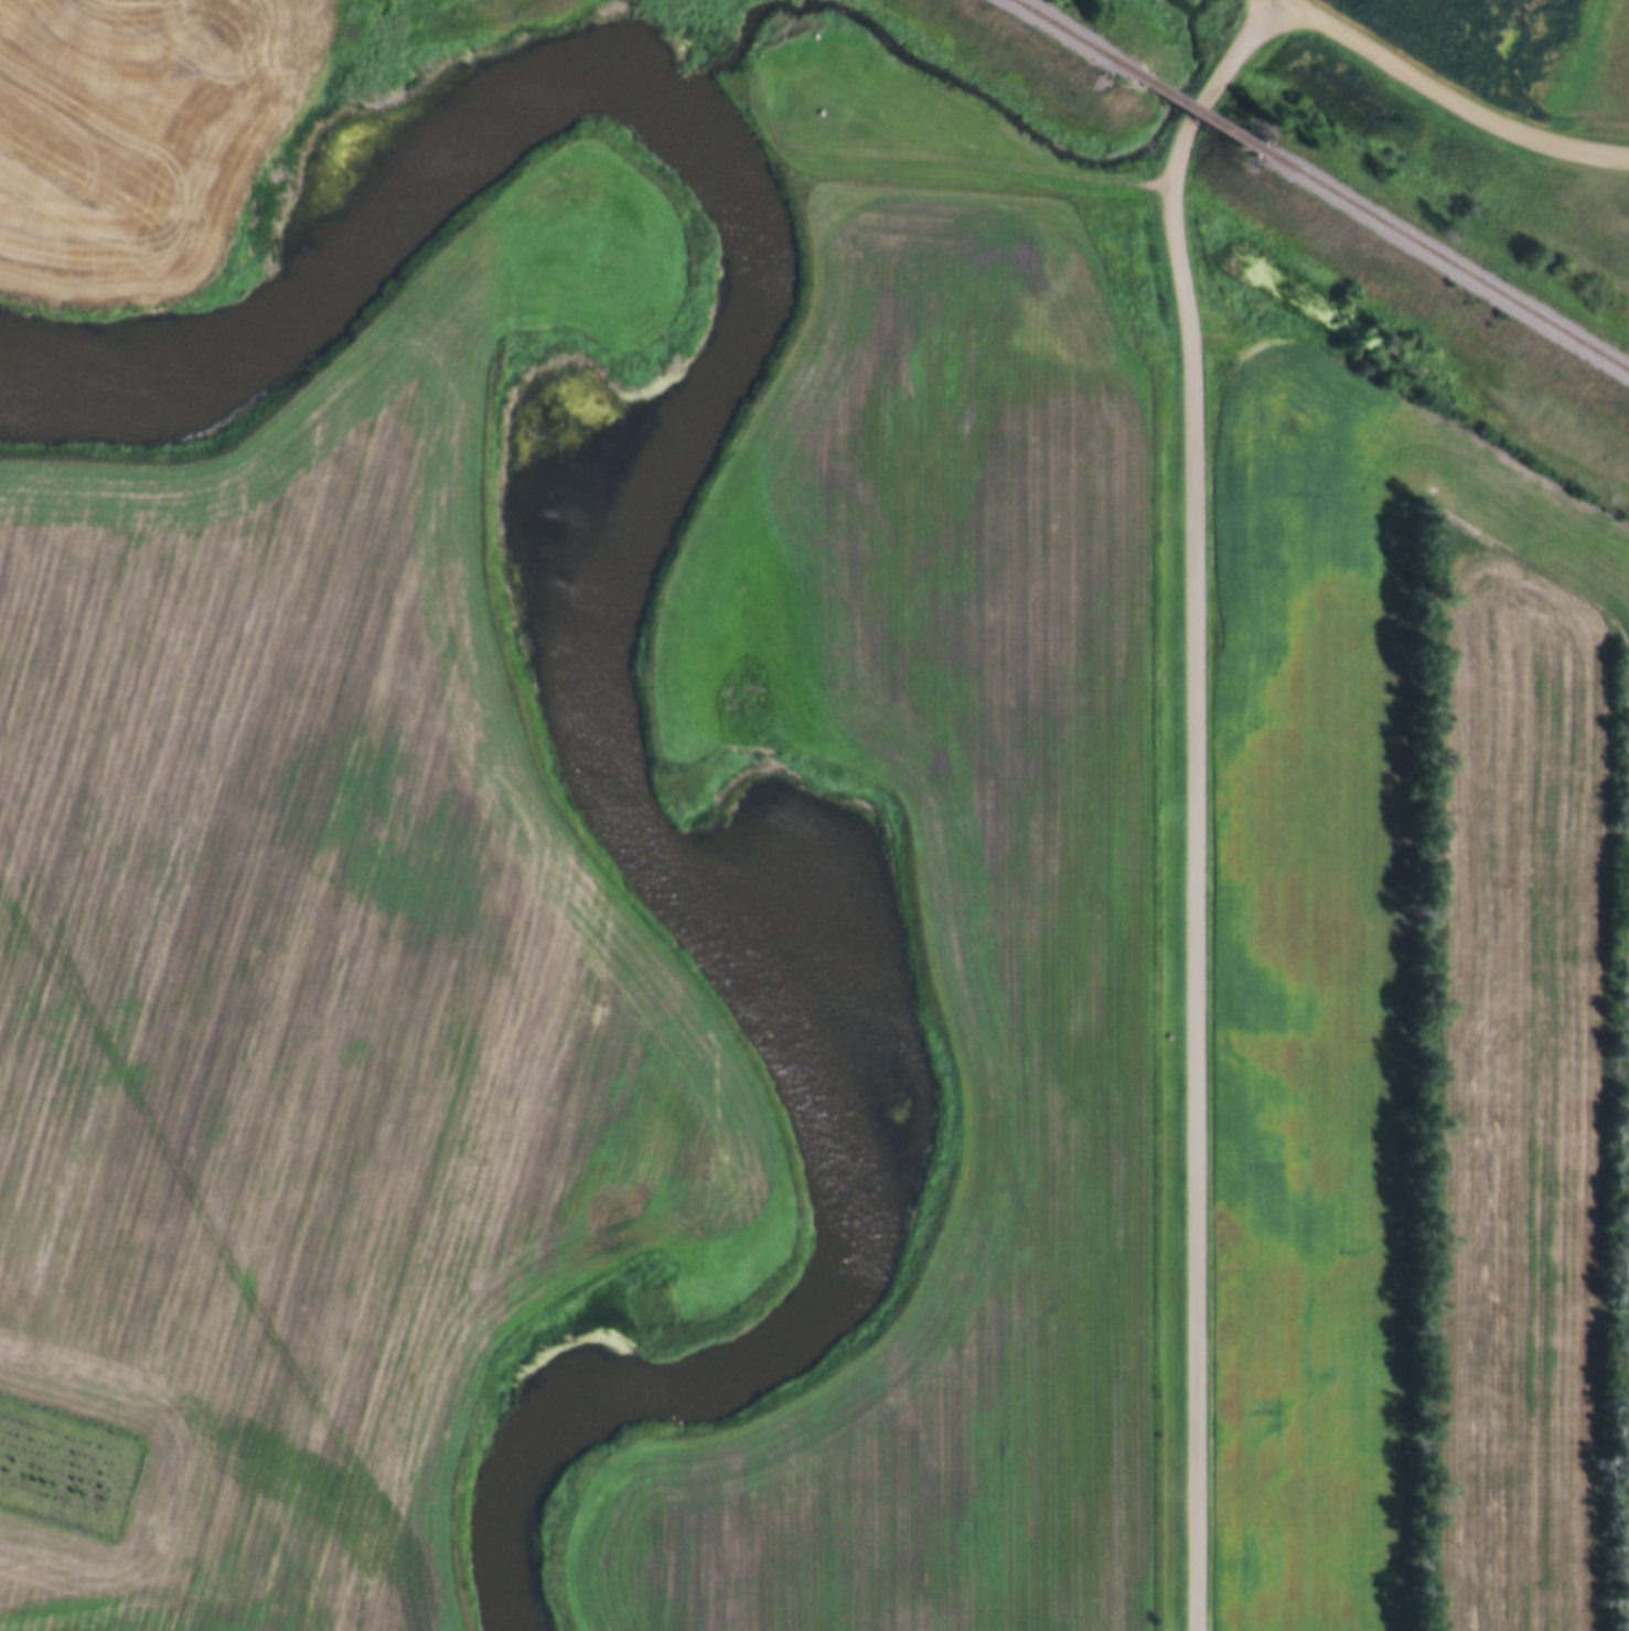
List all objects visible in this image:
railway: (1047, 37)
road: (1454, 94)
railway: (1172, 112)
railway: (1433, 268)
river: (619, 577)
road: (1196, 800)

